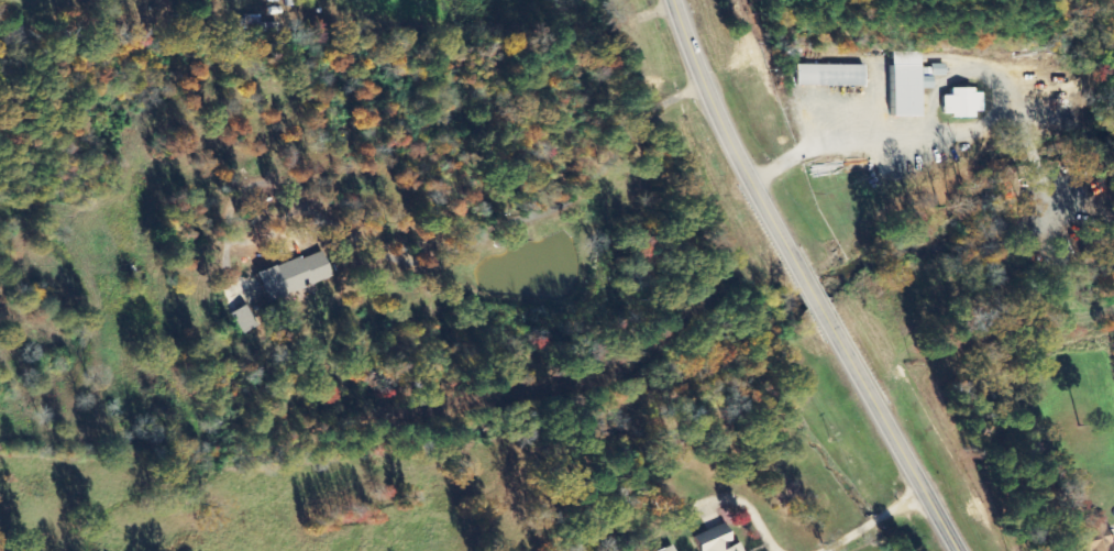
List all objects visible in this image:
building: (936, 69)
building: (828, 75)
building: (904, 85)
building: (958, 103)
building: (285, 276)
road: (806, 279)
building: (235, 319)
building: (1092, 536)
building: (714, 540)
building: (663, 549)

